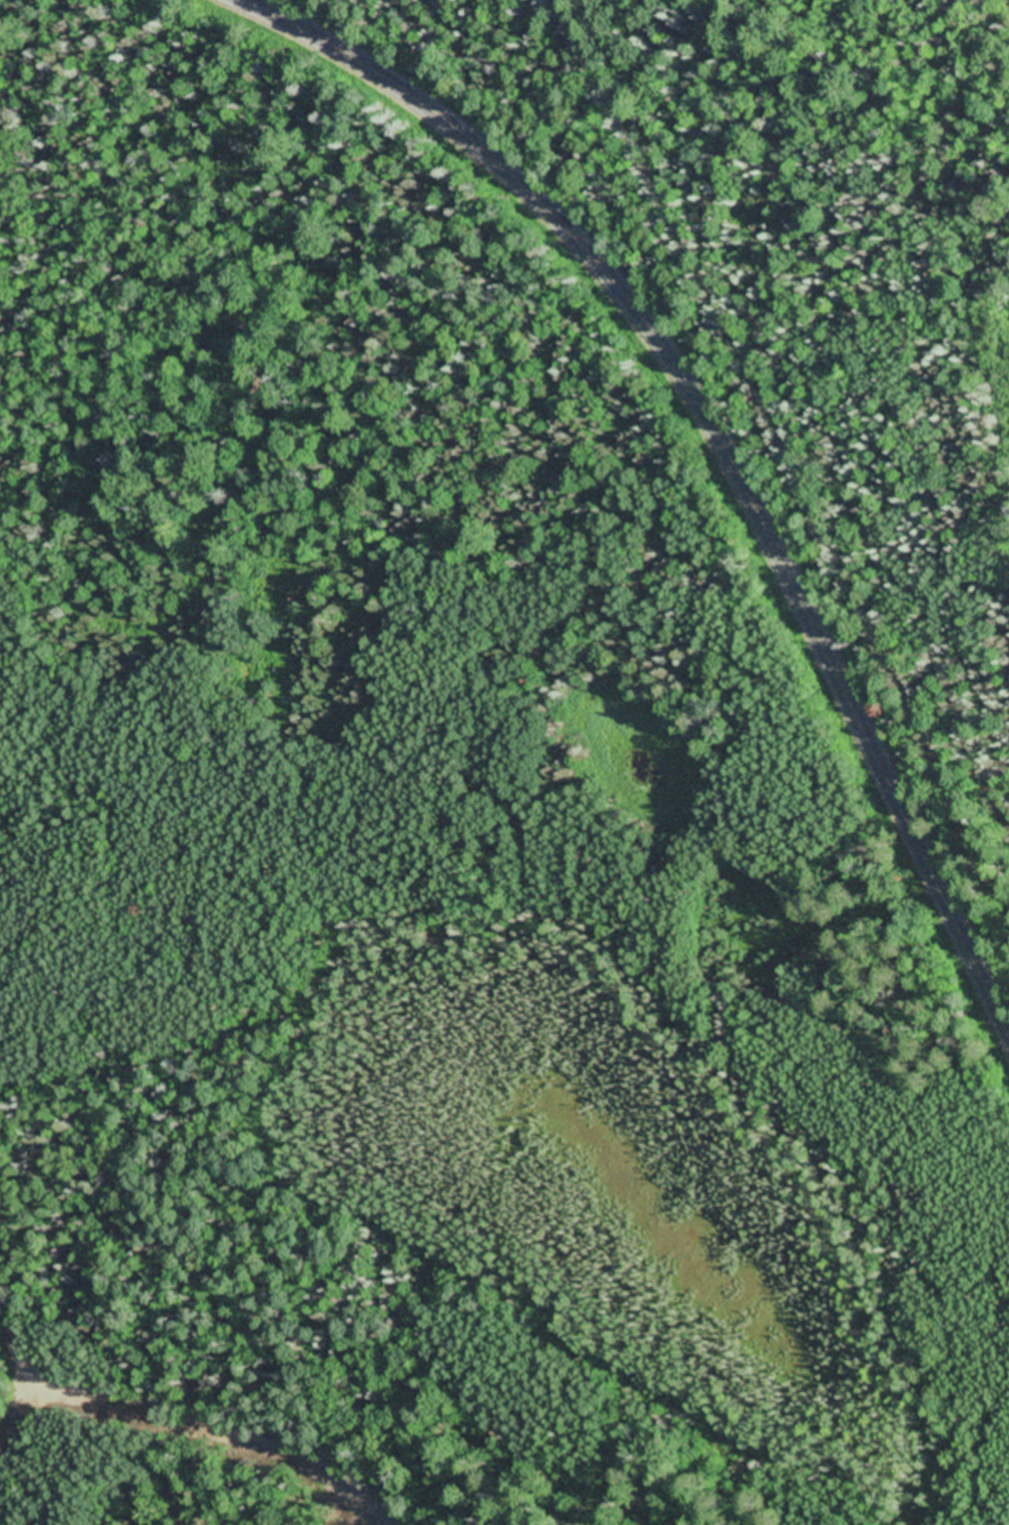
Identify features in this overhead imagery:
road: (722, 444)

